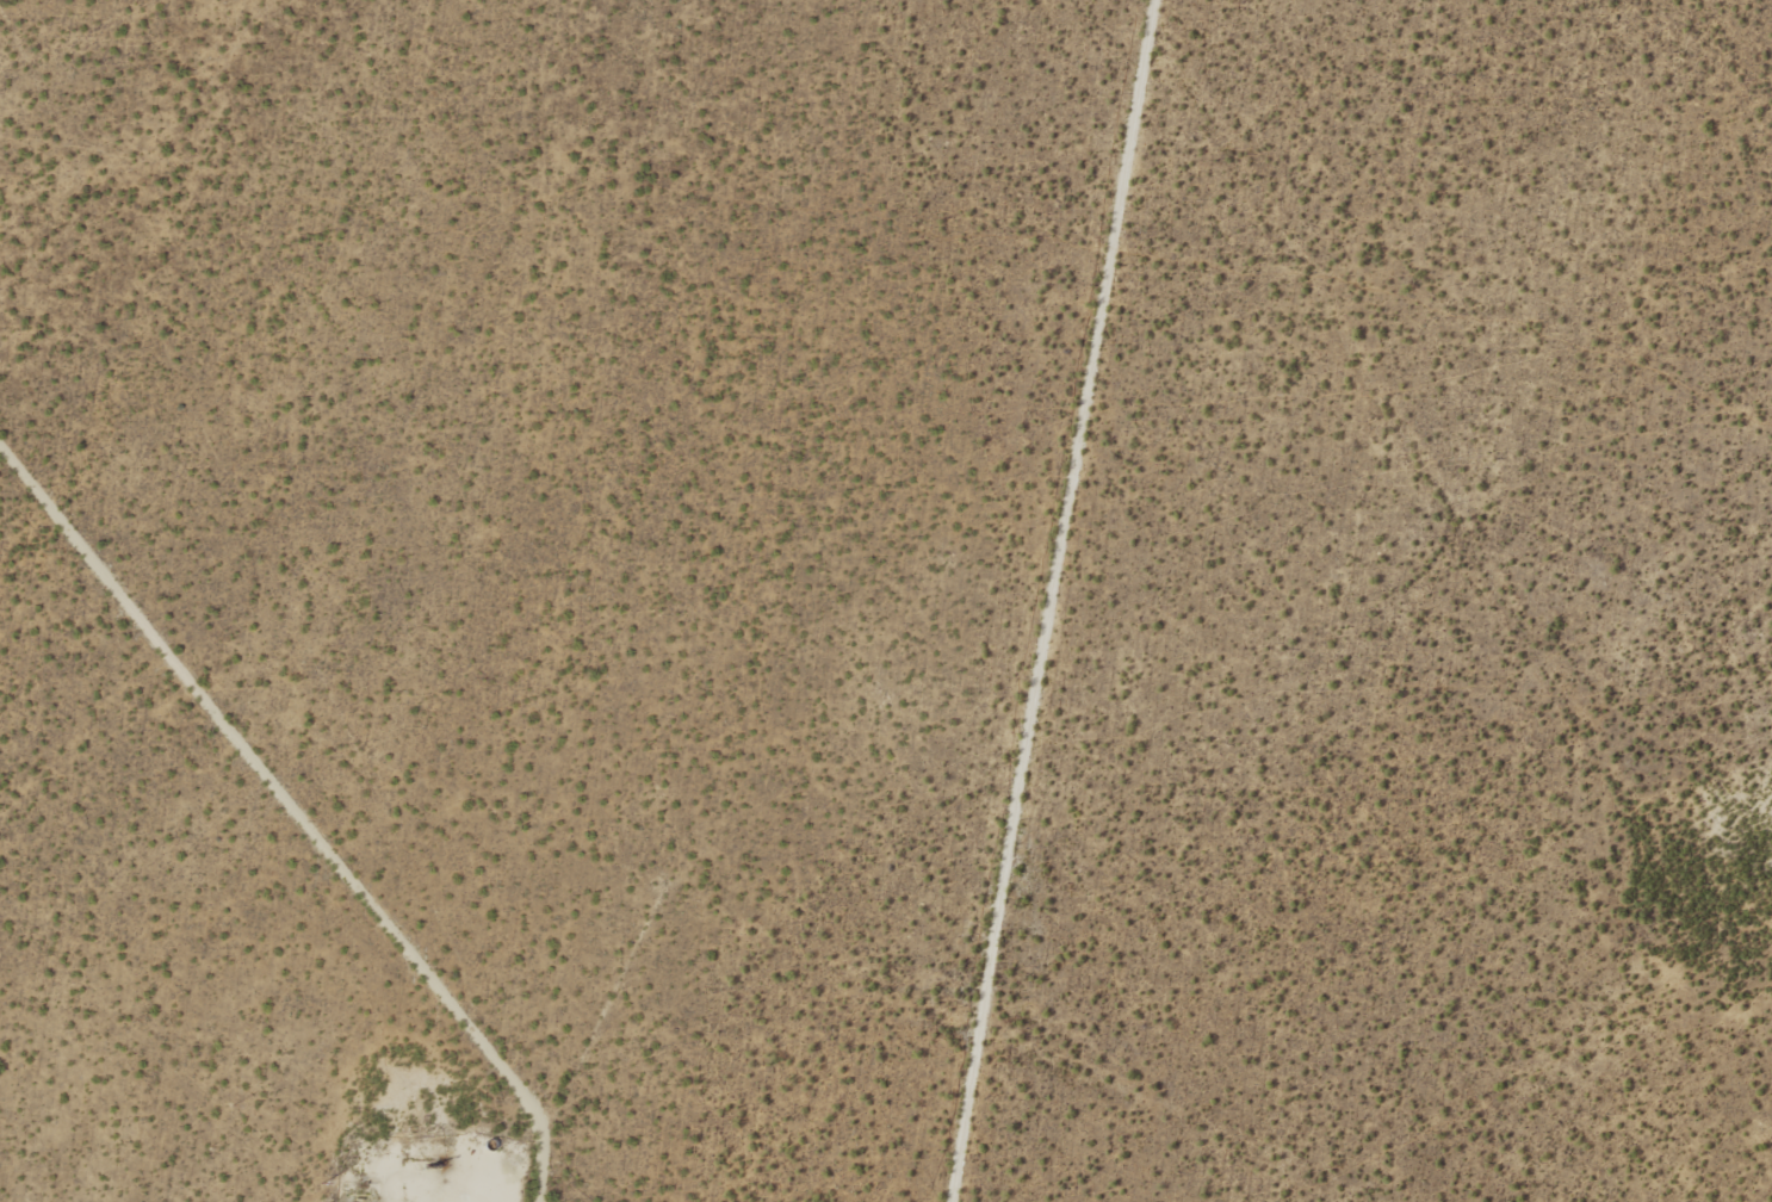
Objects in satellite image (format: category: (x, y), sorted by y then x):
road: (1052, 601)

